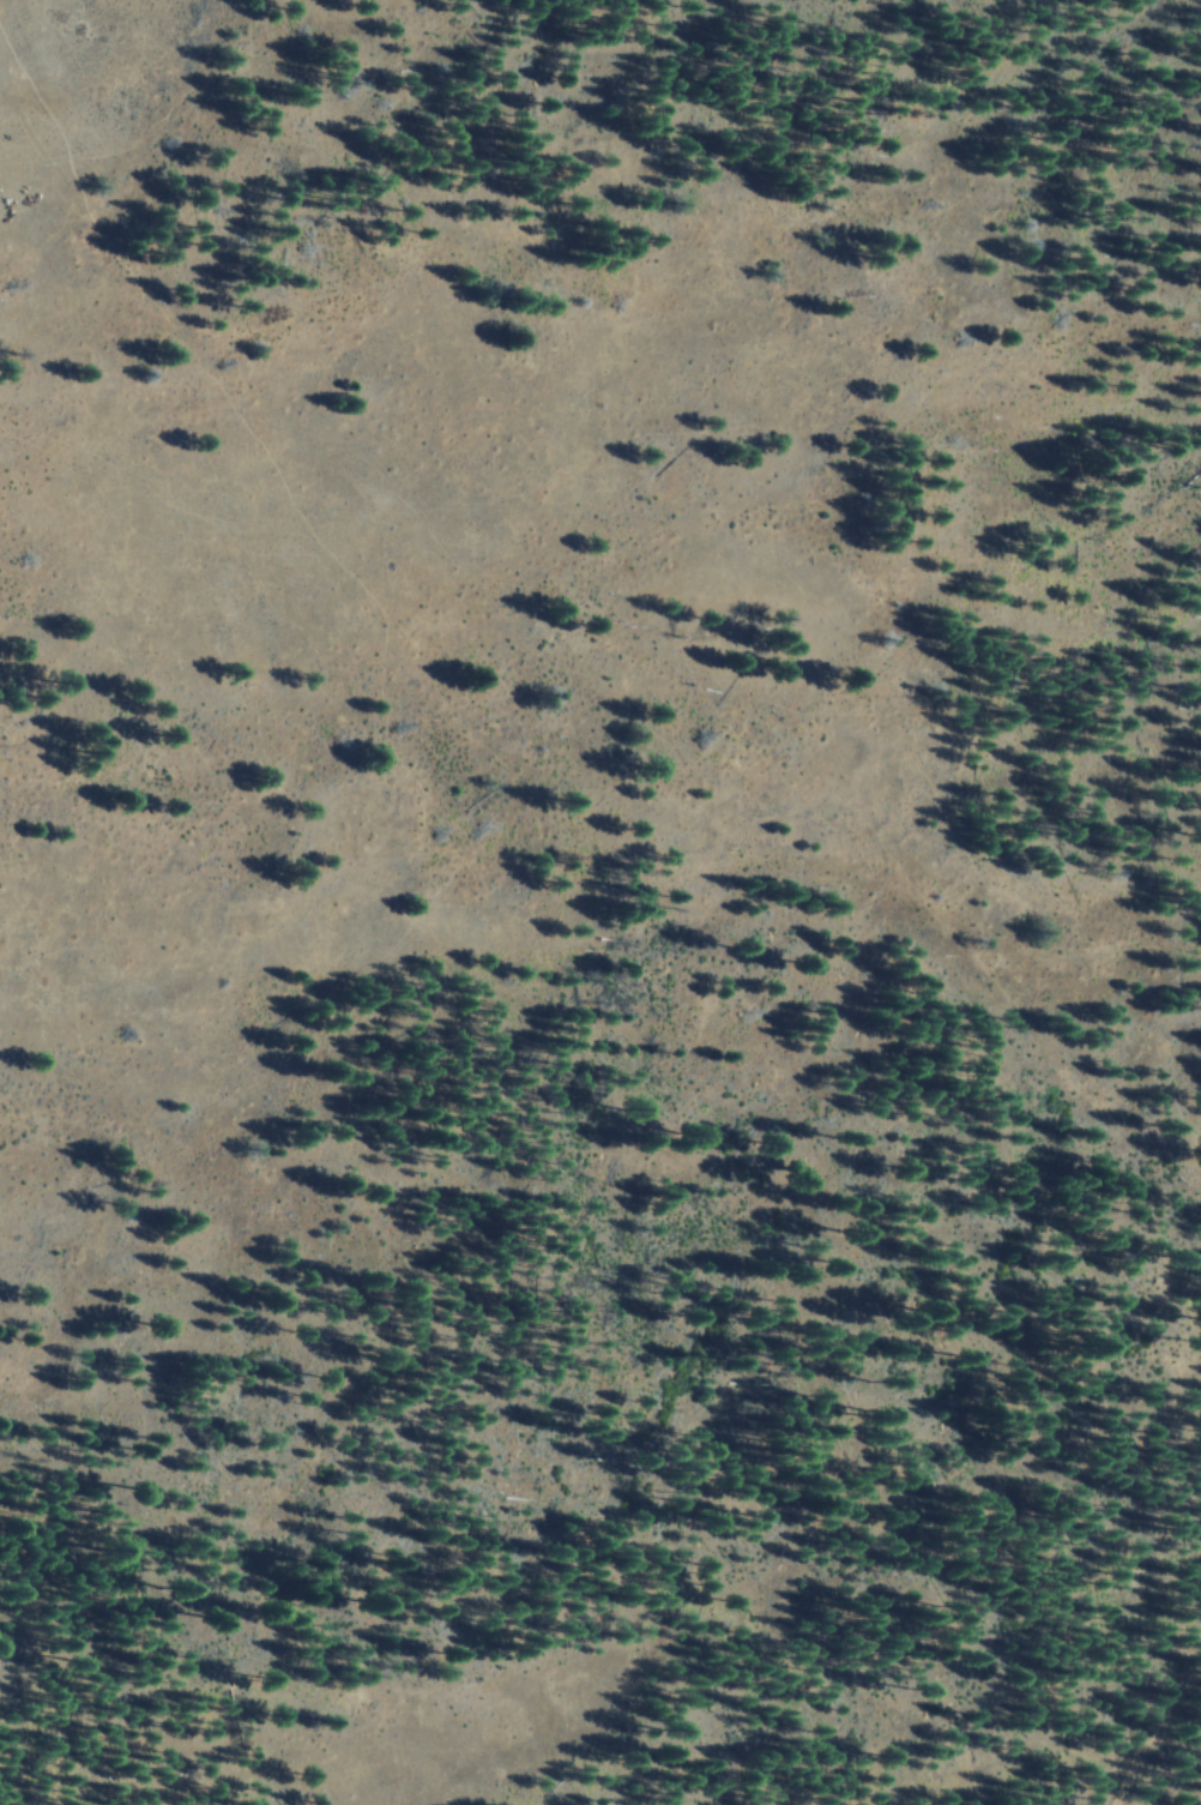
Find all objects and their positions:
road: (253, 1517)
road: (837, 1599)
road: (459, 1733)

